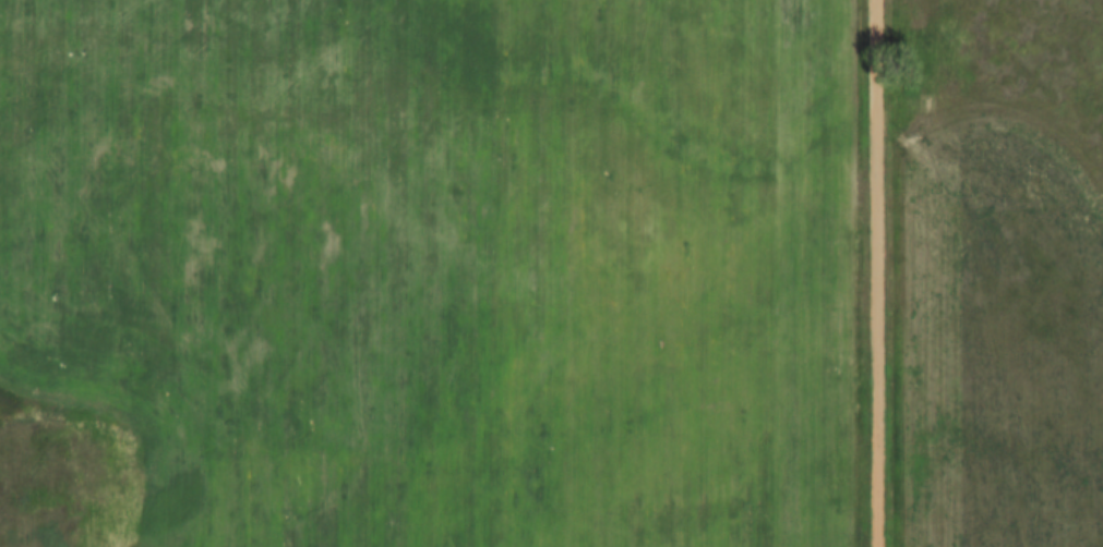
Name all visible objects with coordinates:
road: (876, 272)

